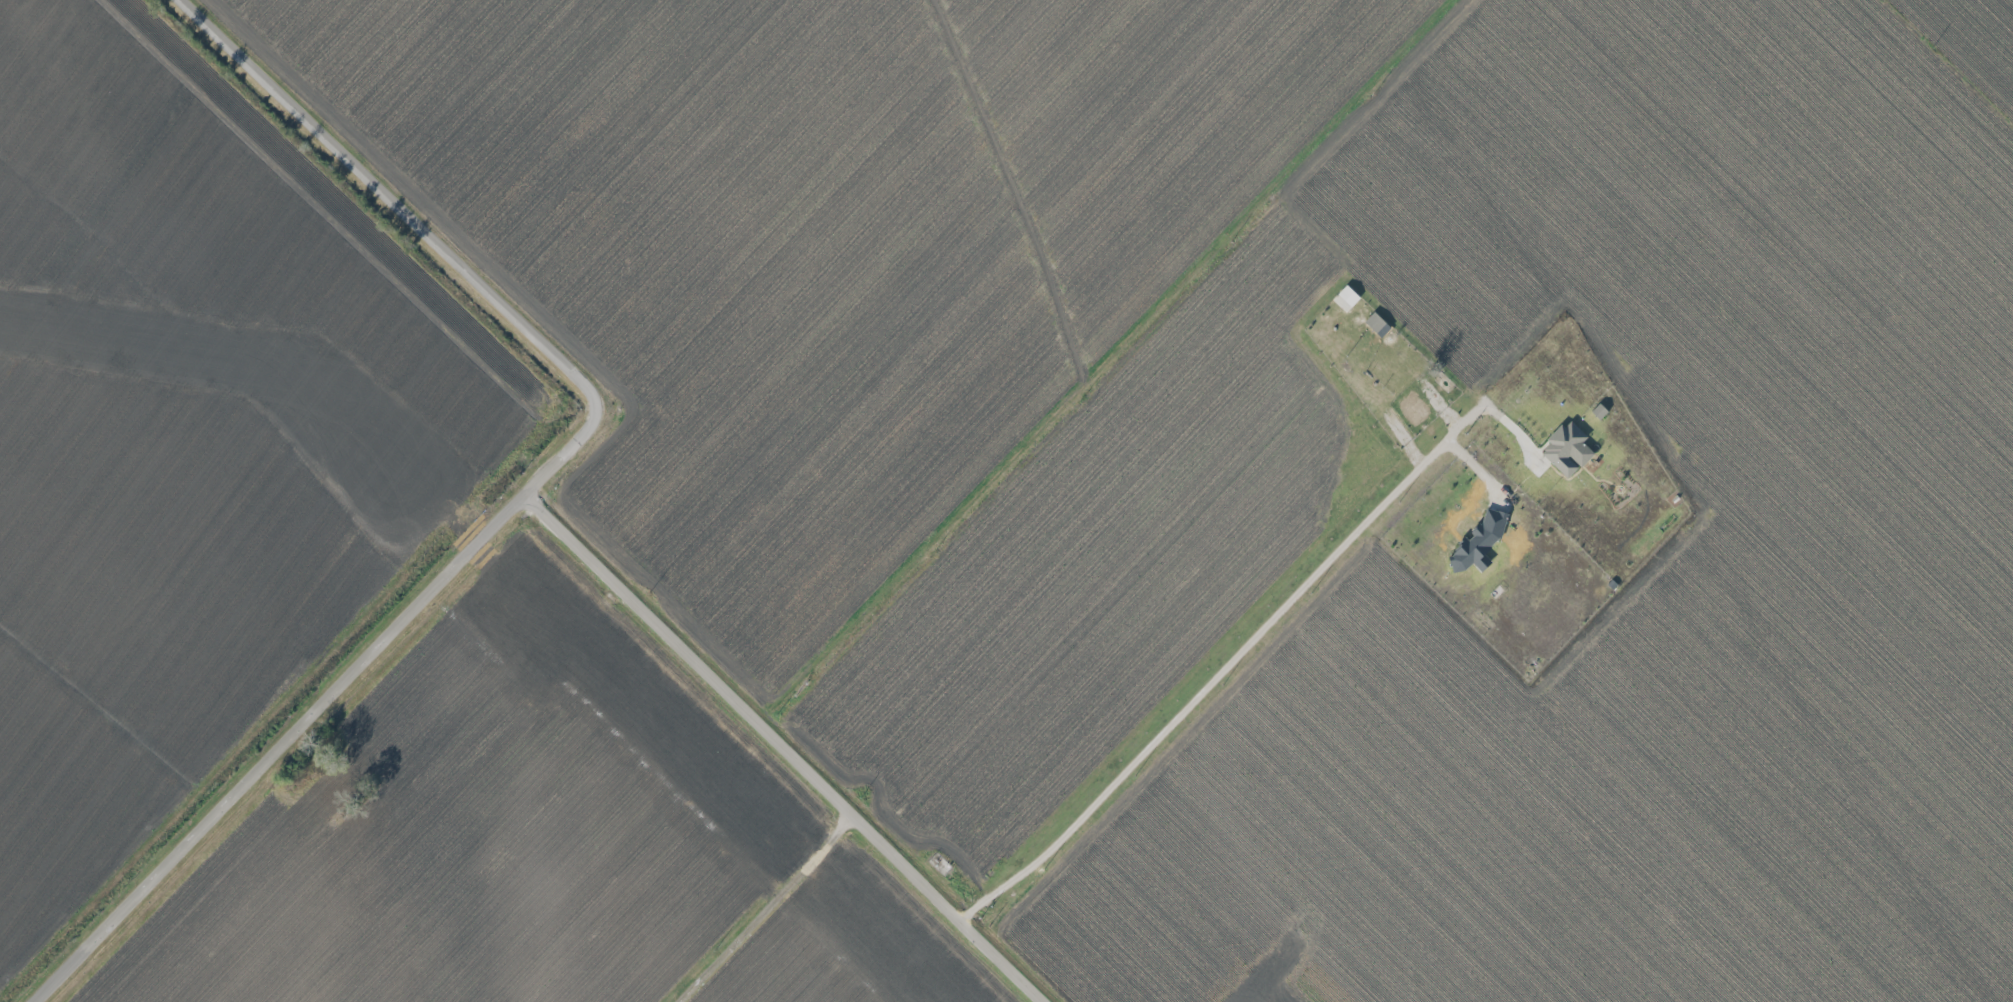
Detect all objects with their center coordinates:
road: (1948, 64)
building: (1346, 298)
road: (1122, 366)
building: (1567, 448)
road: (524, 496)
building: (1479, 542)
road: (1224, 669)
road: (784, 748)
road: (752, 904)

